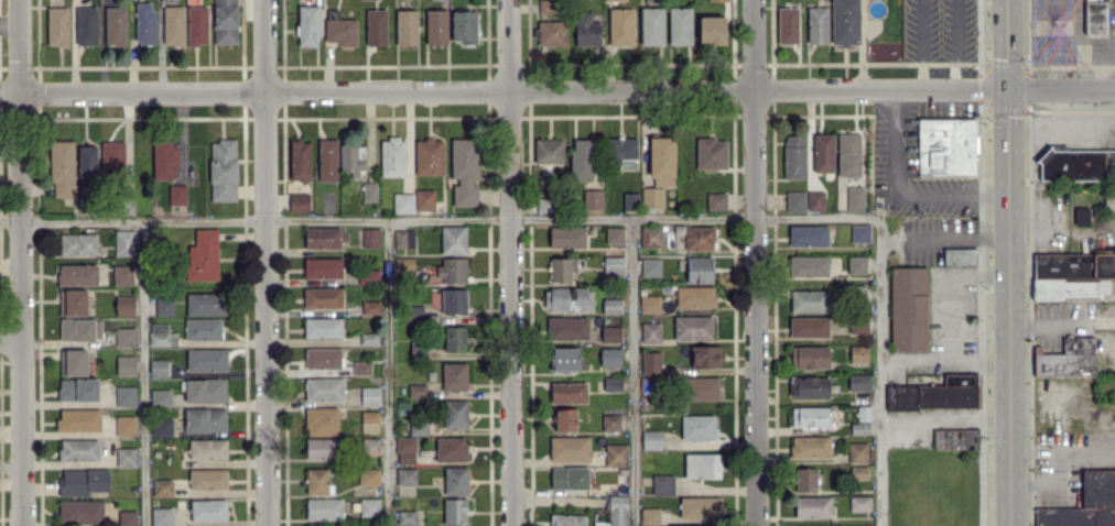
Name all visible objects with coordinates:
building: (614, 0)
building: (716, 0)
building: (548, 6)
building: (1095, 18)
road: (8, 19)
building: (225, 21)
building: (144, 22)
building: (844, 22)
building: (173, 24)
building: (787, 24)
building: (816, 24)
building: (86, 25)
building: (115, 25)
building: (196, 25)
building: (307, 25)
building: (464, 25)
building: (651, 25)
building: (679, 25)
building: (57, 26)
building: (376, 26)
building: (405, 26)
building: (436, 26)
building: (620, 26)
building: (585, 30)
building: (712, 30)
building: (340, 31)
building: (550, 32)
road: (1078, 41)
road: (920, 44)
road: (954, 44)
road: (1101, 64)
traffic signals: (1007, 88)
road: (566, 89)
building: (946, 146)
building: (548, 151)
building: (623, 152)
building: (711, 153)
building: (823, 153)
building: (848, 154)
building: (111, 155)
building: (391, 156)
building: (429, 156)
building: (793, 156)
building: (581, 158)
building: (164, 160)
building: (300, 160)
building: (327, 160)
building: (351, 160)
building: (661, 161)
building: (87, 164)
building: (1078, 164)
building: (61, 168)
building: (223, 169)
building: (464, 171)
building: (369, 190)
building: (176, 194)
road: (896, 196)
building: (651, 197)
building: (593, 198)
building: (855, 198)
building: (424, 199)
building: (629, 200)
building: (716, 200)
building: (794, 200)
building: (815, 200)
building: (299, 202)
building: (403, 202)
building: (542, 205)
building: (1081, 215)
road: (447, 220)
road: (959, 232)
building: (859, 233)
building: (614, 234)
building: (808, 235)
building: (566, 237)
building: (650, 237)
building: (324, 238)
building: (370, 238)
building: (403, 238)
building: (699, 238)
building: (453, 239)
building: (123, 242)
building: (77, 244)
building: (203, 255)
building: (959, 256)
road: (19, 262)
road: (264, 262)
road: (755, 262)
road: (510, 263)
road: (1008, 263)
building: (856, 264)
building: (613, 265)
building: (808, 265)
building: (650, 266)
building: (322, 267)
building: (561, 269)
building: (699, 269)
building: (452, 270)
building: (77, 274)
building: (122, 275)
building: (1072, 275)
building: (368, 276)
road: (952, 291)
building: (695, 296)
building: (322, 297)
building: (567, 298)
building: (453, 300)
building: (809, 300)
building: (73, 302)
building: (205, 304)
building: (649, 304)
building: (125, 305)
building: (163, 306)
building: (610, 306)
building: (370, 307)
building: (908, 308)
building: (413, 313)
road: (1062, 321)
building: (858, 322)
building: (808, 326)
building: (323, 327)
building: (566, 327)
building: (692, 327)
building: (79, 329)
building: (202, 329)
building: (650, 332)
building: (610, 333)
building: (161, 335)
building: (125, 337)
building: (454, 338)
building: (858, 353)
building: (809, 355)
building: (609, 357)
building: (704, 357)
building: (323, 358)
building: (563, 358)
building: (1067, 358)
building: (206, 360)
road: (943, 360)
building: (73, 362)
building: (126, 364)
building: (158, 368)
building: (360, 368)
building: (649, 370)
road: (631, 372)
road: (878, 372)
road: (387, 373)
road: (143, 374)
building: (454, 376)
building: (858, 382)
building: (611, 383)
building: (809, 386)
building: (323, 388)
building: (702, 388)
building: (77, 390)
building: (205, 390)
building: (416, 390)
building: (567, 392)
building: (935, 394)
building: (126, 395)
building: (370, 395)
building: (160, 396)
building: (455, 414)
building: (810, 416)
road: (951, 416)
building: (78, 419)
building: (205, 419)
building: (564, 419)
building: (321, 420)
building: (860, 420)
building: (369, 421)
building: (610, 421)
building: (125, 426)
building: (161, 427)
building: (418, 427)
building: (697, 427)
building: (954, 438)
building: (651, 439)
building: (810, 446)
building: (322, 448)
building: (569, 448)
building: (78, 449)
building: (451, 449)
building: (207, 450)
building: (405, 450)
building: (857, 452)
building: (615, 454)
building: (126, 457)
building: (702, 465)
road: (1060, 465)
building: (858, 472)
building: (368, 476)
building: (405, 476)
building: (569, 476)
building: (207, 479)
building: (804, 479)
building: (455, 480)
building: (82, 481)
building: (316, 481)
building: (662, 484)
building: (162, 487)
building: (859, 503)
building: (1085, 503)
building: (368, 506)
building: (812, 506)
building: (700, 507)
building: (324, 508)
building: (208, 509)
building: (454, 511)
building: (80, 512)
building: (616, 512)
building: (649, 515)
building: (161, 516)
building: (127, 517)
building: (405, 517)
building: (567, 519)
building: (676, 525)

